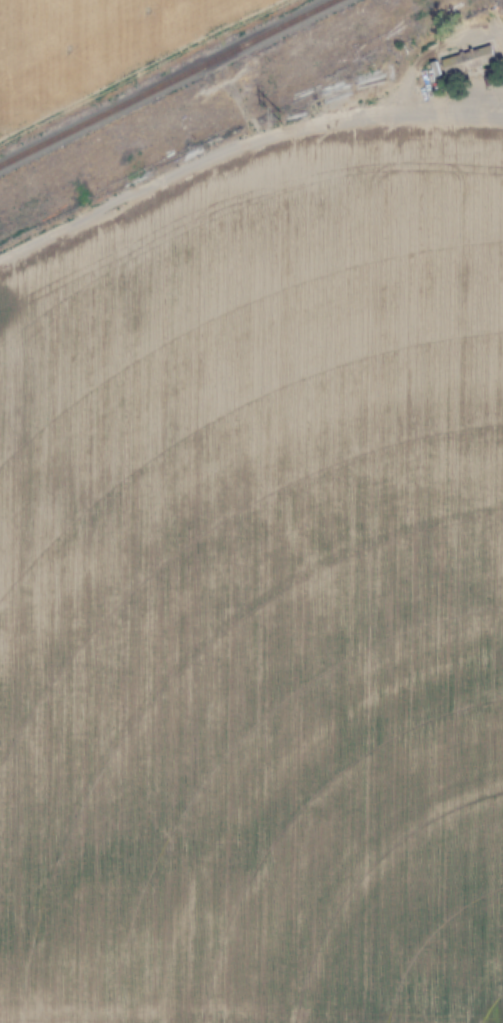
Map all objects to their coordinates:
crop: (96, 47)
building: (467, 60)
railway: (185, 94)
road: (242, 146)

